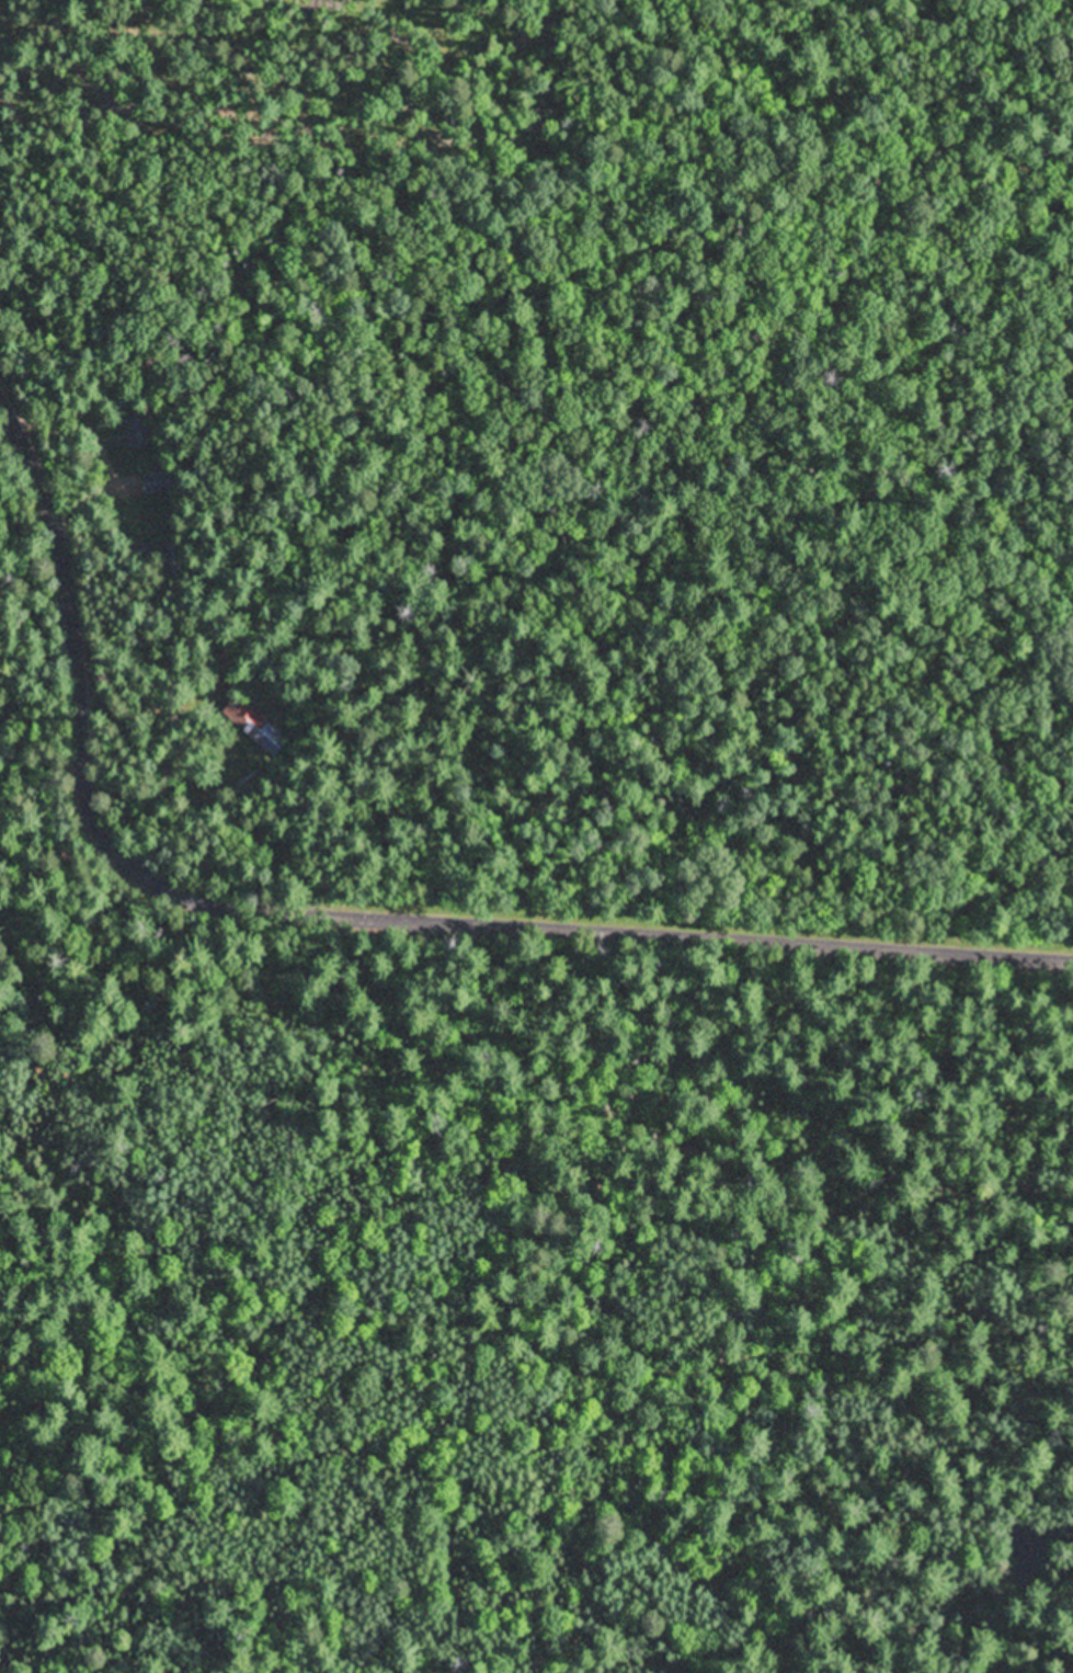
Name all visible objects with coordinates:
building: (250, 728)
road: (357, 907)

